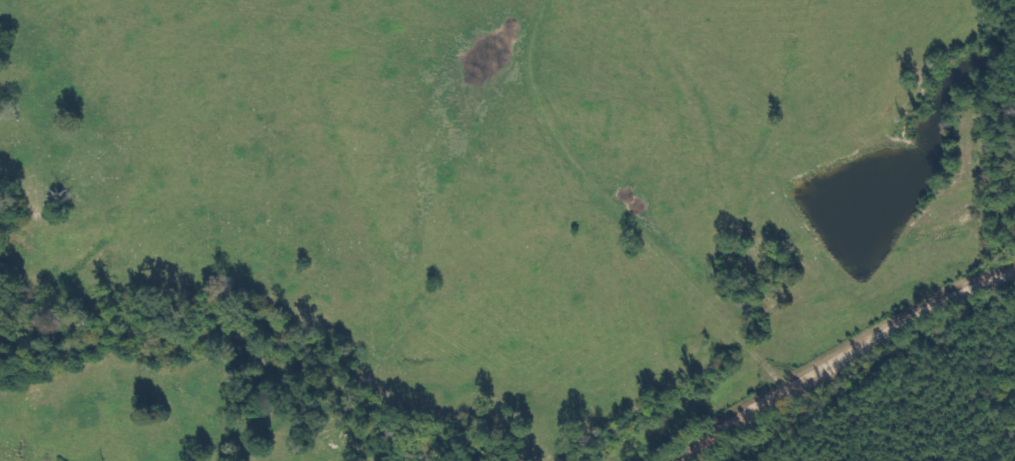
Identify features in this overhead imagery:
road: (854, 356)

